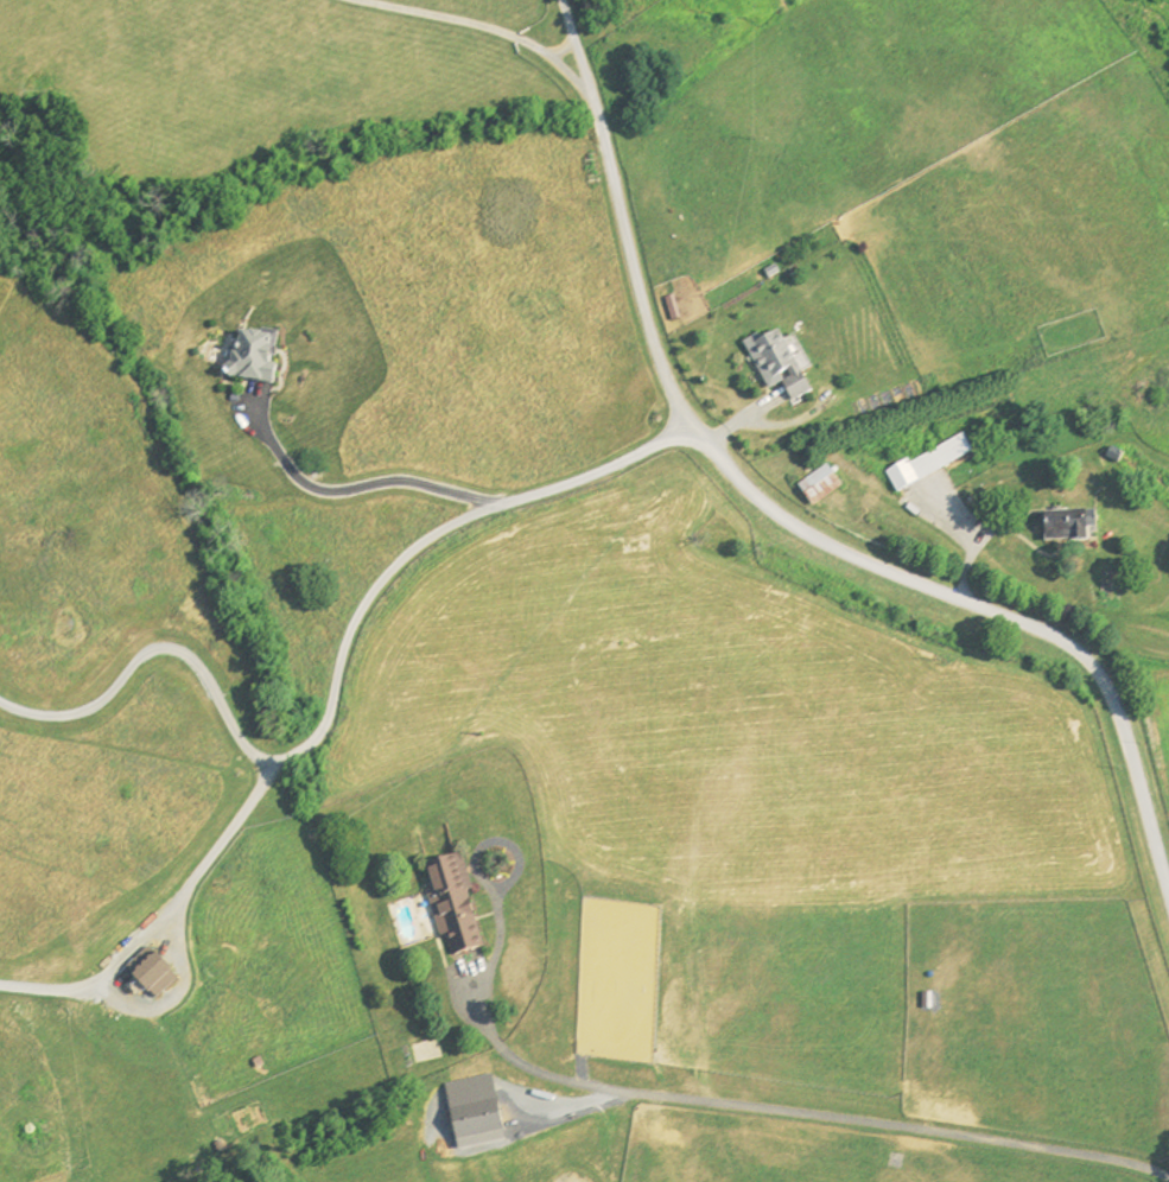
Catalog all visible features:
road: (476, 25)
building: (247, 358)
building: (774, 366)
building: (1142, 385)
building: (925, 464)
road: (363, 487)
building: (813, 488)
road: (787, 521)
building: (1061, 532)
road: (428, 538)
road: (971, 542)
road: (153, 649)
crop: (1154, 712)
building: (449, 905)
road: (163, 915)
road: (498, 946)
road: (178, 993)
road: (813, 1119)

